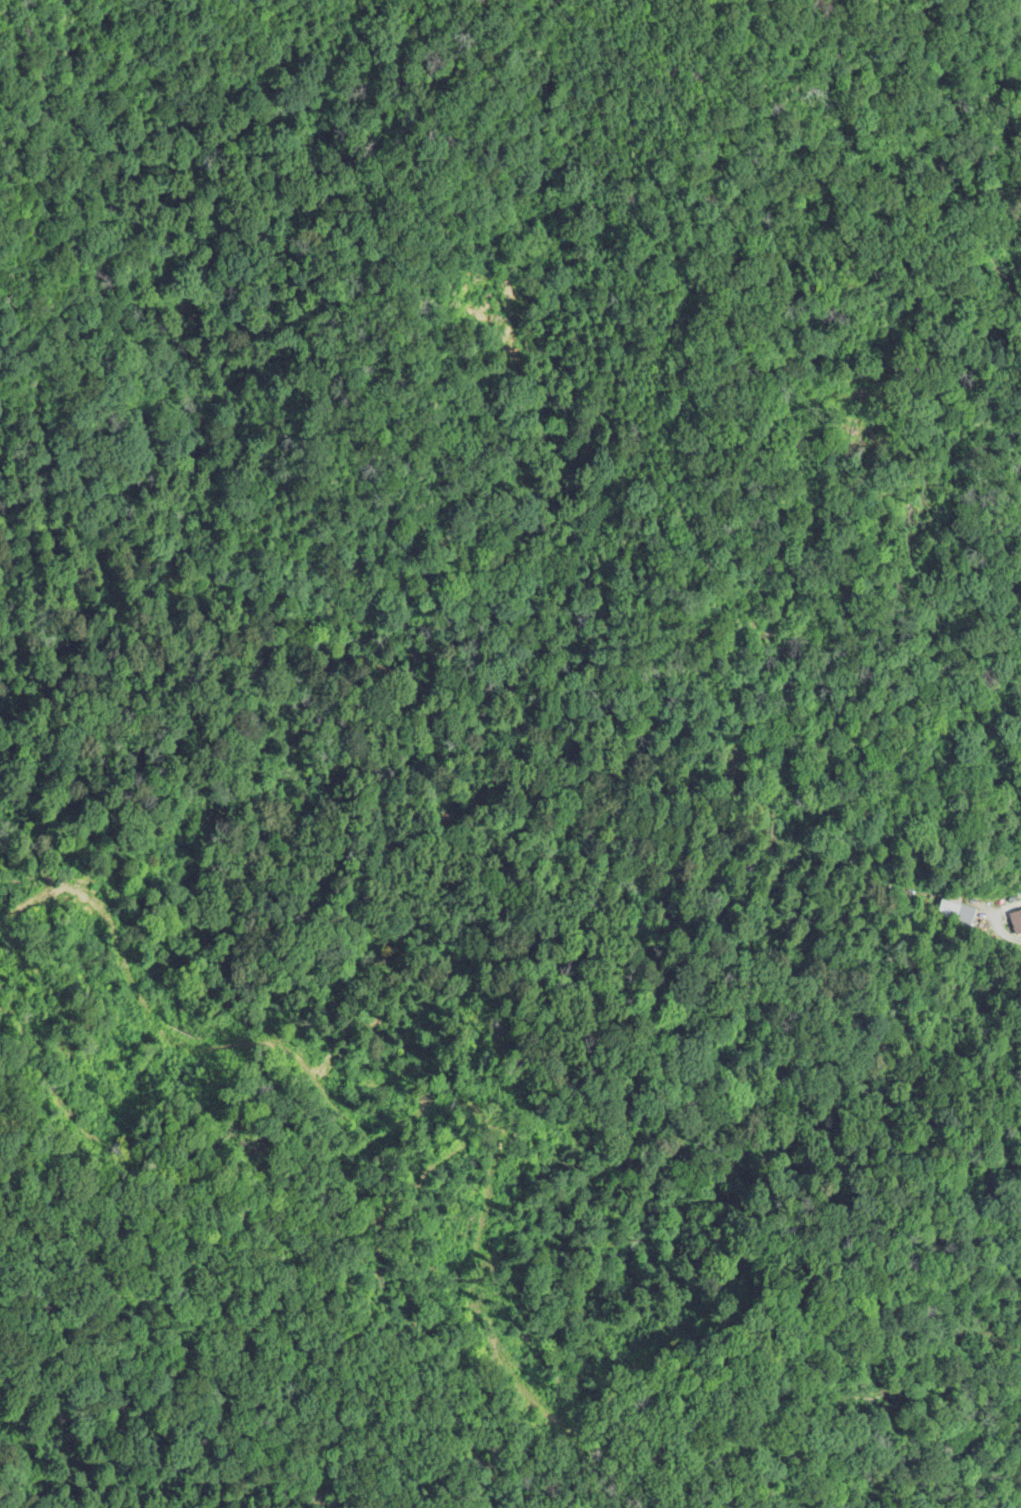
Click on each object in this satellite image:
building: (957, 915)
building: (1016, 921)

